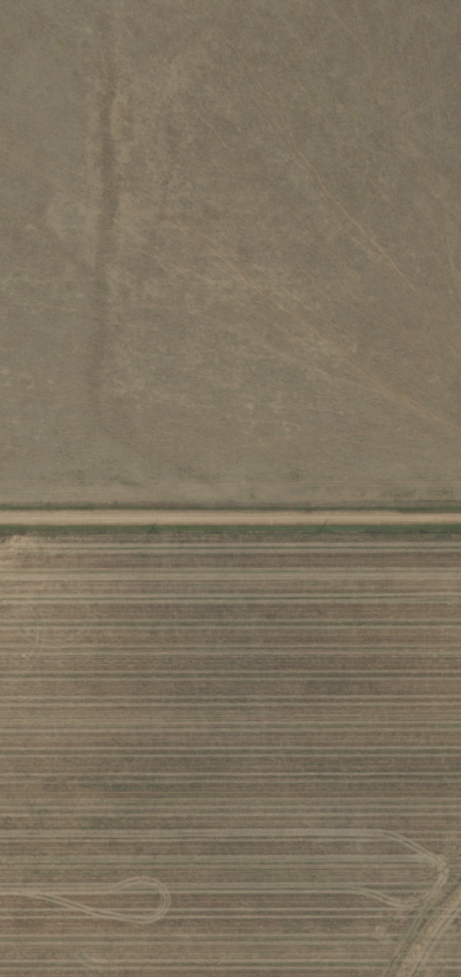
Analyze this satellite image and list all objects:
road: (230, 515)

